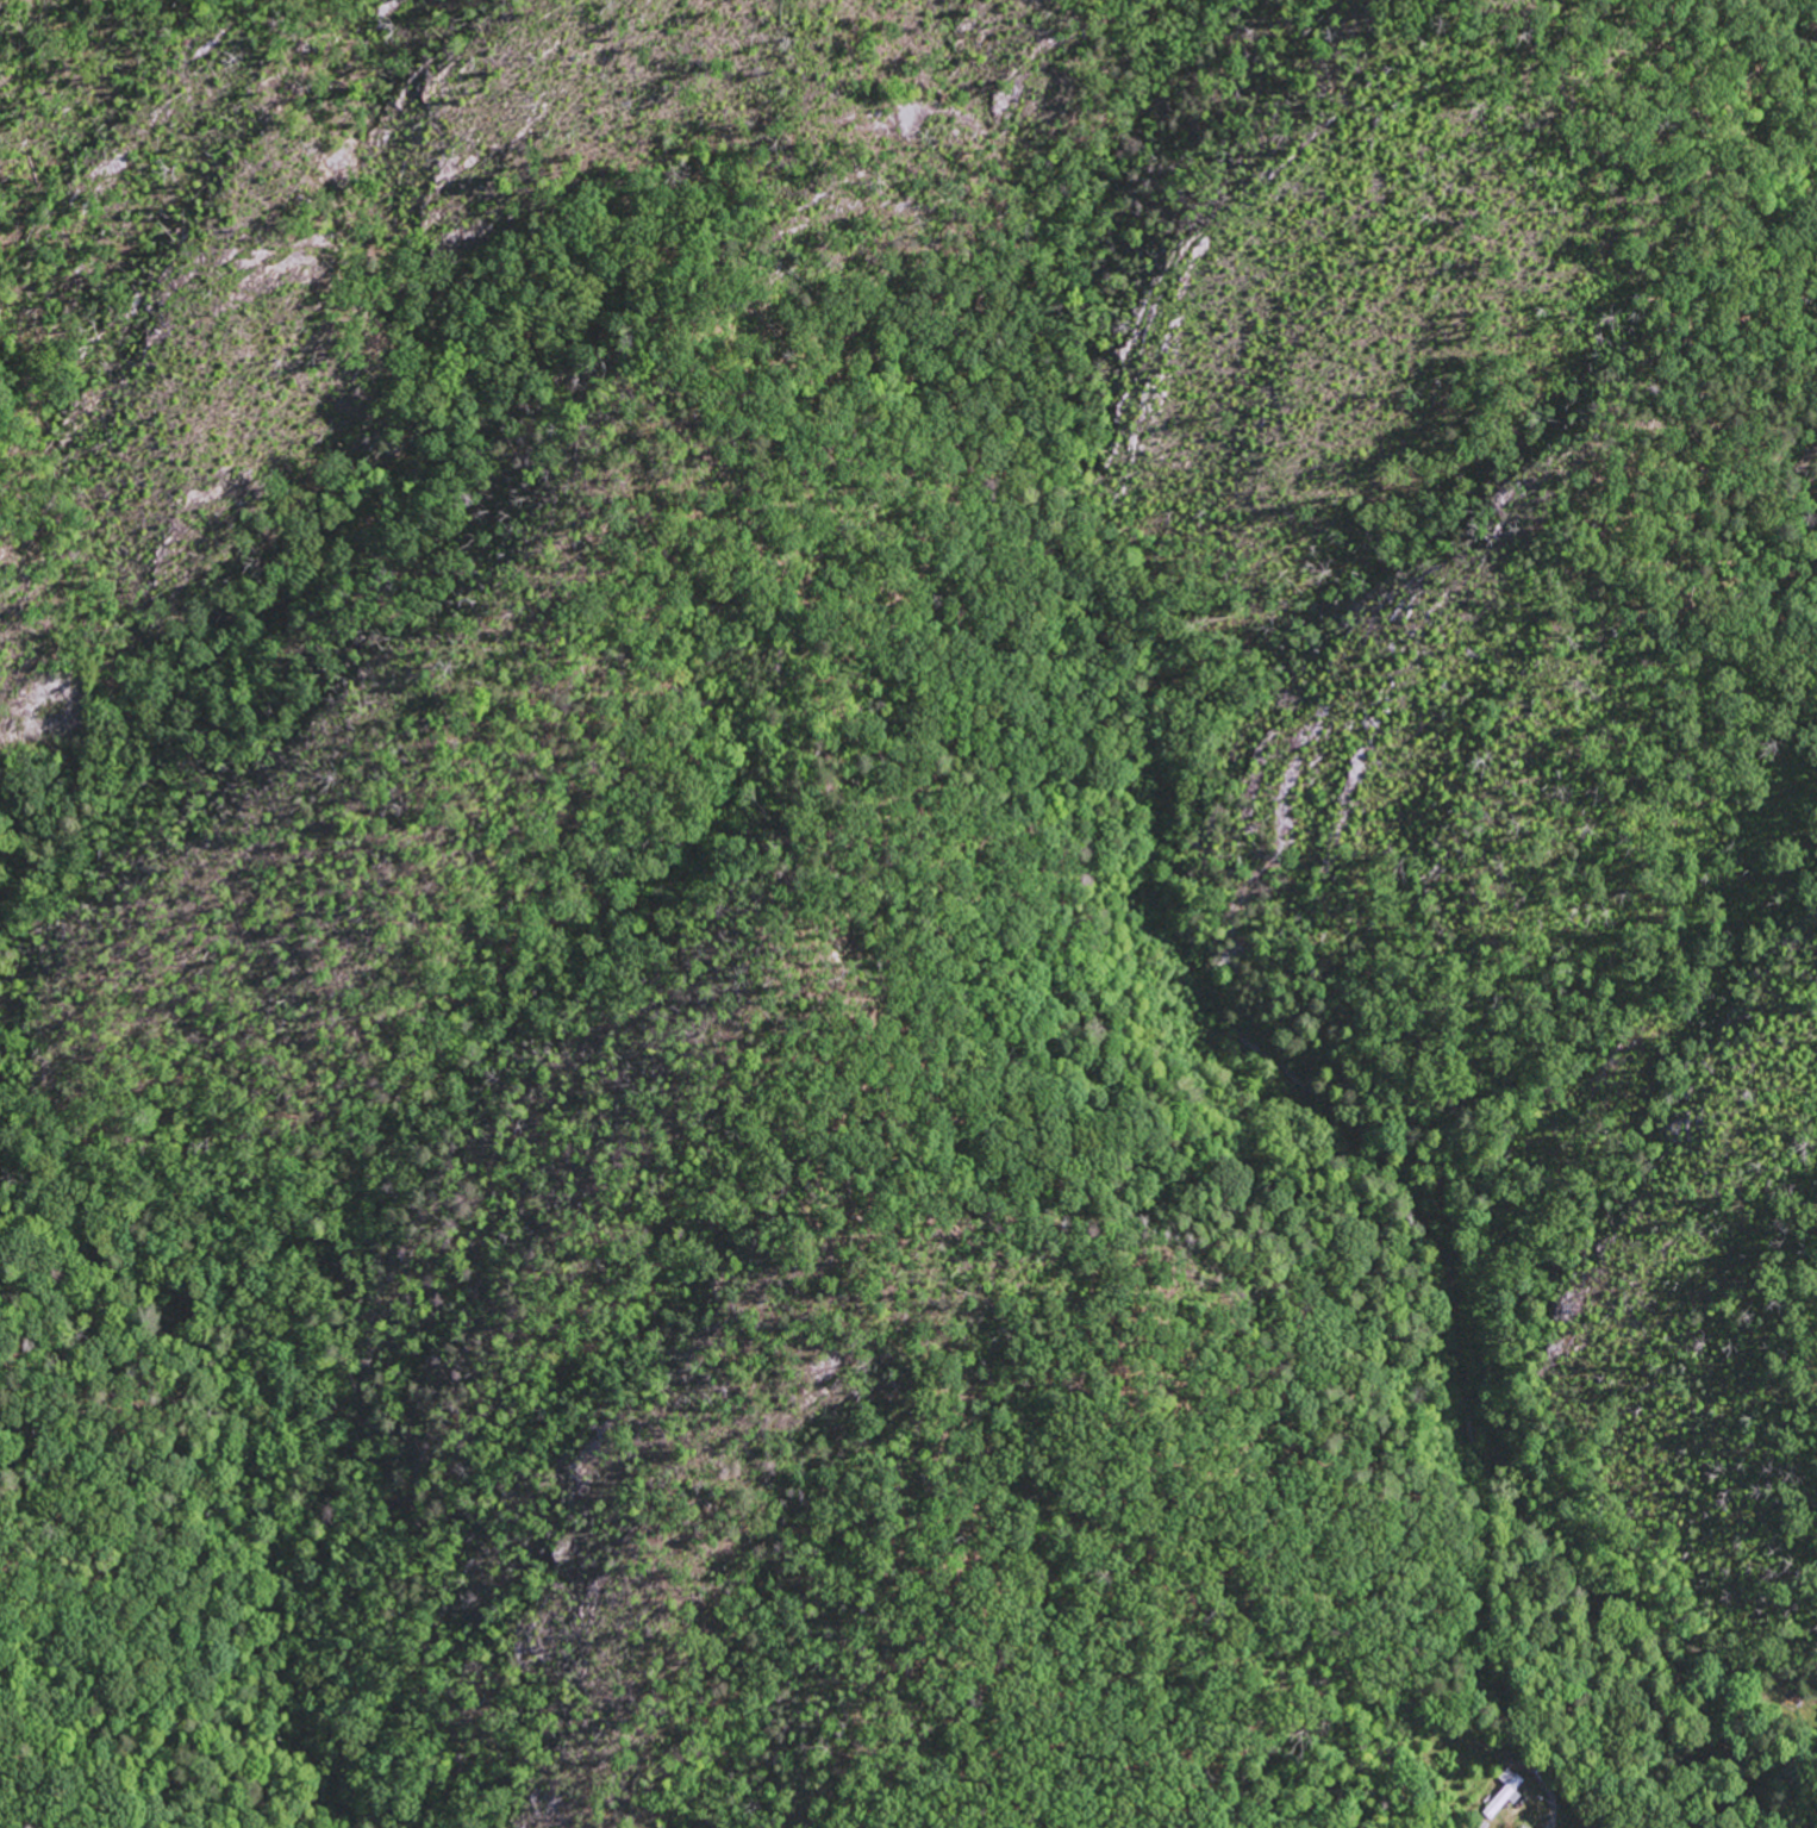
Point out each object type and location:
road: (1469, 1434)
building: (1504, 1792)

